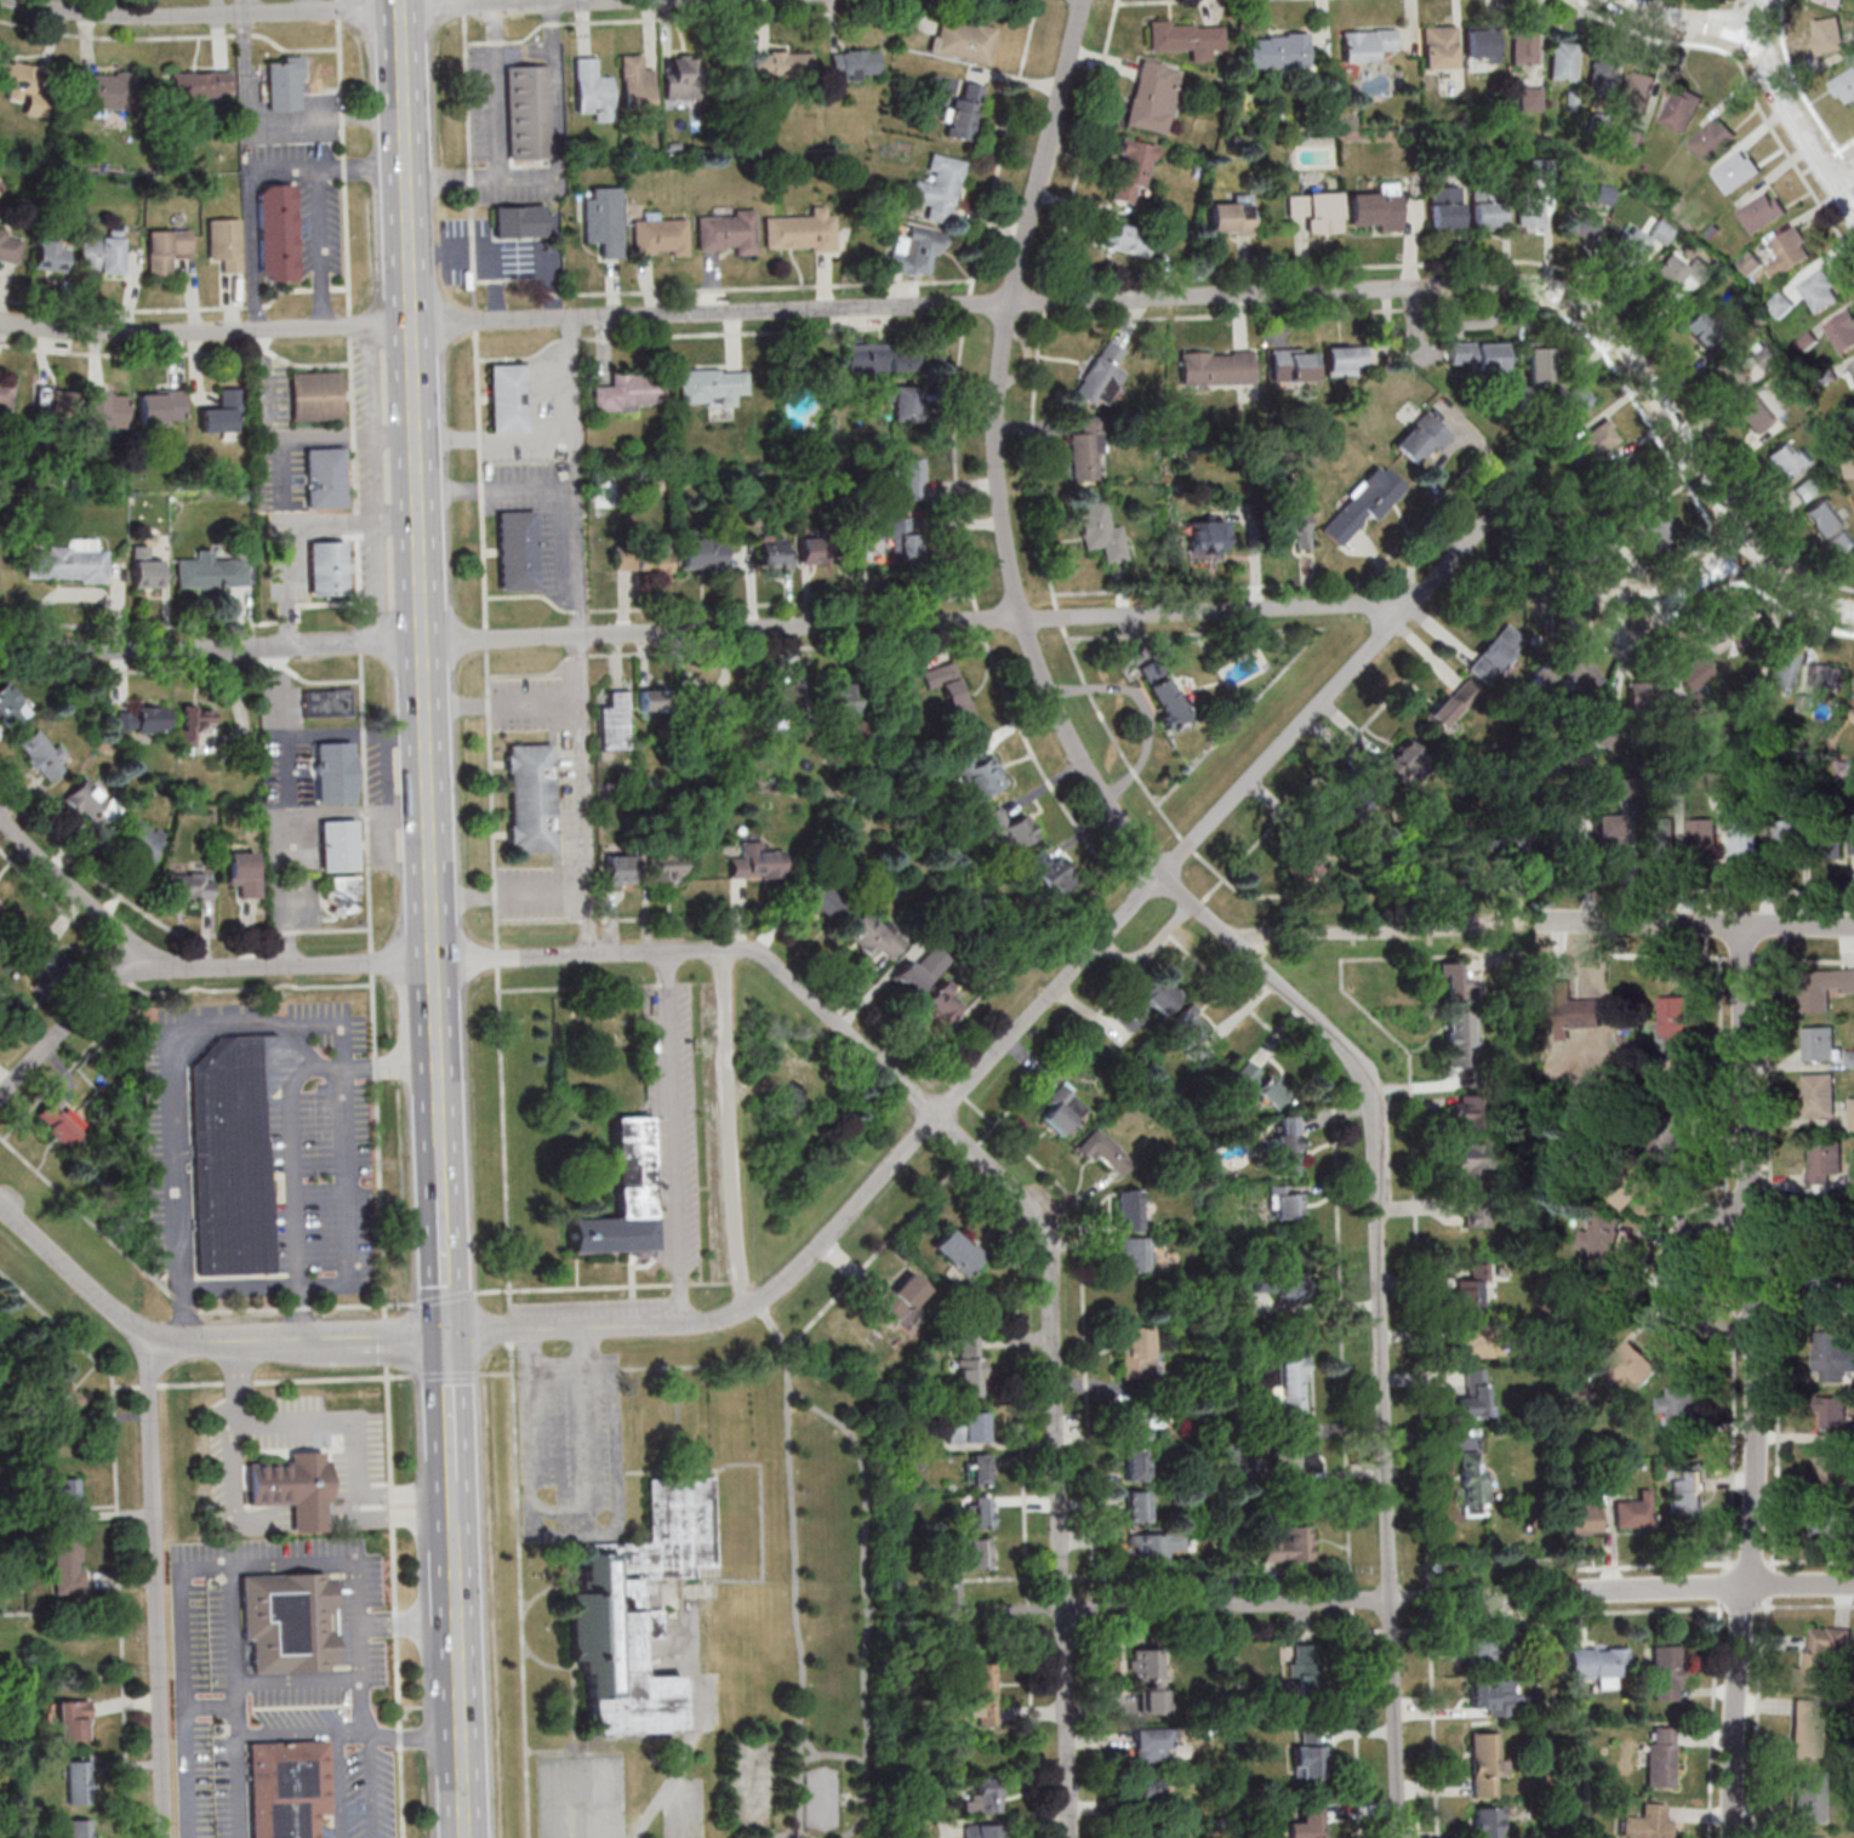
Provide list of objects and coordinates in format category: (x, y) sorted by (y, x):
road: (1151, 1)
road: (536, 2)
building: (1835, 2)
road: (243, 6)
road: (205, 16)
road: (748, 16)
road: (1688, 22)
road: (1733, 25)
building: (1188, 38)
building: (963, 40)
building: (1822, 41)
building: (1367, 45)
building: (1481, 45)
building: (1523, 46)
building: (1438, 47)
building: (1277, 50)
building: (1562, 61)
building: (854, 63)
building: (781, 64)
building: (1601, 75)
building: (683, 78)
road: (1746, 80)
building: (201, 84)
building: (635, 84)
building: (25, 85)
building: (283, 85)
building: (1639, 85)
road: (1795, 85)
building: (1843, 86)
building: (107, 90)
building: (592, 90)
building: (1530, 96)
building: (1153, 97)
road: (1780, 97)
building: (1681, 108)
building: (526, 110)
building: (963, 110)
road: (273, 120)
building: (1712, 138)
road: (1841, 147)
road: (555, 161)
road: (359, 167)
road: (1848, 169)
road: (285, 170)
building: (1131, 170)
building: (1735, 171)
road: (1843, 176)
building: (940, 189)
road: (1853, 190)
building: (1604, 194)
road: (1843, 199)
building: (1444, 207)
building: (1487, 207)
building: (1379, 209)
building: (1530, 209)
building: (1316, 211)
building: (1762, 211)
building: (1232, 216)
building: (518, 219)
building: (603, 222)
building: (1579, 223)
building: (274, 232)
building: (726, 232)
building: (800, 232)
building: (658, 236)
building: (1124, 239)
building: (1637, 242)
building: (224, 245)
building: (10, 246)
road: (486, 249)
building: (165, 250)
building: (914, 250)
building: (1789, 251)
building: (49, 252)
building: (99, 253)
road: (1530, 259)
building: (1679, 273)
road: (298, 289)
road: (721, 289)
building: (1820, 290)
building: (1780, 303)
road: (752, 313)
building: (1704, 329)
building: (1842, 330)
building: (1477, 356)
building: (877, 358)
building: (1346, 360)
building: (1293, 364)
building: (1539, 364)
building: (1852, 365)
building: (1216, 367)
building: (1729, 373)
building: (1102, 375)
building: (711, 386)
building: (631, 392)
building: (6, 393)
building: (314, 395)
building: (507, 398)
building: (902, 401)
building: (1569, 401)
building: (52, 405)
building: (160, 405)
road: (1643, 409)
building: (103, 410)
building: (221, 413)
building: (1756, 413)
road: (268, 429)
road: (494, 435)
road: (346, 438)
building: (1422, 439)
building: (1598, 439)
road: (1692, 443)
building: (1086, 450)
building: (1790, 459)
building: (1848, 467)
building: (1620, 470)
building: (324, 476)
building: (908, 478)
road: (417, 483)
building: (1808, 487)
building: (1364, 503)
building: (1824, 518)
building: (1291, 523)
road: (290, 526)
building: (1659, 526)
building: (1100, 531)
building: (896, 536)
building: (1204, 541)
building: (517, 549)
building: (814, 550)
building: (1602, 550)
building: (776, 552)
building: (702, 553)
building: (643, 558)
building: (69, 563)
building: (146, 567)
building: (326, 567)
building: (211, 572)
road: (970, 573)
road: (1696, 581)
road: (1291, 583)
road: (728, 605)
road: (1313, 628)
road: (707, 630)
road: (584, 635)
road: (786, 647)
building: (1495, 653)
road: (487, 655)
road: (361, 658)
building: (1782, 669)
building: (1690, 673)
building: (1580, 674)
building: (1826, 677)
building: (951, 690)
building: (1163, 691)
building: (785, 696)
building: (1645, 696)
building: (652, 700)
building: (713, 701)
building: (327, 702)
building: (1451, 703)
building: (840, 704)
building: (11, 706)
building: (142, 719)
road: (350, 727)
building: (41, 754)
road: (1129, 759)
building: (1407, 764)
building: (335, 772)
building: (980, 775)
building: (1673, 784)
building: (531, 798)
building: (1364, 799)
building: (90, 804)
road: (276, 809)
building: (1009, 828)
building: (1609, 829)
building: (1745, 829)
building: (1568, 830)
building: (1662, 834)
building: (1704, 835)
building: (1787, 837)
building: (1496, 839)
building: (1829, 840)
building: (139, 841)
building: (338, 845)
building: (1853, 846)
building: (1308, 857)
building: (757, 861)
building: (666, 866)
building: (620, 871)
building: (244, 873)
building: (1054, 877)
building: (189, 885)
road: (68, 886)
building: (342, 894)
building: (826, 901)
building: (0, 908)
road: (1206, 919)
road: (1530, 919)
road: (591, 920)
road: (541, 921)
road: (1696, 925)
road: (1379, 931)
building: (874, 934)
building: (44, 967)
road: (287, 967)
building: (920, 971)
building: (1457, 981)
road: (580, 987)
building: (1824, 987)
building: (1151, 1000)
building: (1574, 1006)
road: (1026, 1023)
building: (1675, 1023)
road: (72, 1026)
building: (1190, 1035)
building: (1461, 1038)
building: (1819, 1043)
road: (438, 1050)
building: (1849, 1058)
road: (1043, 1074)
building: (1261, 1084)
building: (1819, 1095)
road: (928, 1103)
building: (1062, 1108)
building: (1466, 1111)
building: (1852, 1113)
building: (64, 1123)
building: (1670, 1130)
road: (734, 1131)
road: (675, 1137)
building: (1287, 1145)
building: (234, 1149)
building: (1105, 1152)
building: (1468, 1157)
building: (1826, 1160)
road: (443, 1166)
road: (292, 1174)
building: (1626, 1185)
building: (622, 1197)
building: (1285, 1201)
building: (1129, 1209)
road: (82, 1210)
building: (1473, 1211)
road: (179, 1221)
road: (1082, 1222)
building: (1833, 1225)
building: (1602, 1239)
building: (958, 1251)
building: (1134, 1254)
road: (445, 1266)
road: (1667, 1272)
road: (74, 1273)
building: (1279, 1284)
road: (607, 1286)
building: (1471, 1289)
building: (1825, 1292)
building: (902, 1295)
road: (443, 1297)
road: (182, 1300)
road: (304, 1306)
road: (510, 1325)
traffic signals: (447, 1336)
road: (297, 1338)
road: (386, 1341)
building: (1471, 1343)
building: (1136, 1352)
building: (1830, 1355)
building: (1631, 1366)
building: (970, 1369)
road: (447, 1375)
road: (284, 1380)
road: (1753, 1382)
road: (125, 1386)
road: (148, 1386)
building: (1291, 1387)
building: (58, 1391)
building: (1473, 1393)
road: (450, 1408)
building: (1681, 1408)
building: (1832, 1414)
road: (300, 1421)
building: (1136, 1422)
building: (966, 1427)
building: (1296, 1457)
building: (1137, 1465)
building: (976, 1469)
building: (1831, 1469)
building: (1619, 1472)
building: (1473, 1483)
building: (292, 1488)
road: (403, 1494)
building: (1687, 1494)
building: (68, 1497)
road: (453, 1502)
building: (1139, 1506)
building: (979, 1511)
building: (1636, 1512)
road: (404, 1514)
building: (1586, 1519)
building: (1829, 1526)
road: (118, 1529)
building: (1153, 1546)
building: (1289, 1546)
road: (793, 1549)
building: (972, 1553)
building: (68, 1563)
road: (1639, 1564)
road: (221, 1566)
road: (1027, 1582)
road: (1802, 1586)
road: (1665, 1588)
road: (158, 1589)
road: (519, 1589)
road: (1581, 1589)
road: (394, 1600)
road: (866, 1600)
road: (1288, 1604)
road: (1801, 1605)
building: (635, 1608)
road: (61, 1611)
road: (410, 1620)
building: (285, 1625)
road: (1422, 1628)
park: (823, 1639)
road: (974, 1645)
building: (1479, 1650)
road: (232, 1651)
building: (1821, 1655)
building: (1601, 1663)
building: (1306, 1669)
building: (1668, 1673)
building: (1150, 1678)
road: (62, 1679)
road: (298, 1679)
road: (461, 1680)
building: (982, 1694)
building: (1493, 1697)
road: (211, 1705)
building: (73, 1719)
road: (1067, 1723)
road: (691, 1724)
building: (1809, 1728)
road: (417, 1733)
road: (304, 1735)
road: (808, 1743)
building: (1152, 1745)
road: (833, 1754)
building: (1307, 1756)
building: (1661, 1757)
building: (1487, 1764)
building: (79, 1781)
park: (752, 1782)
road: (341, 1786)
road: (373, 1786)
road: (239, 1787)
building: (285, 1790)
building: (1148, 1790)
building: (983, 1797)
building: (1809, 1797)
park: (821, 1798)
building: (1489, 1822)
building: (1649, 1822)
building: (1307, 1825)
building: (80, 1828)
building: (981, 1831)
road: (789, 1833)
building: (1808, 1837)

